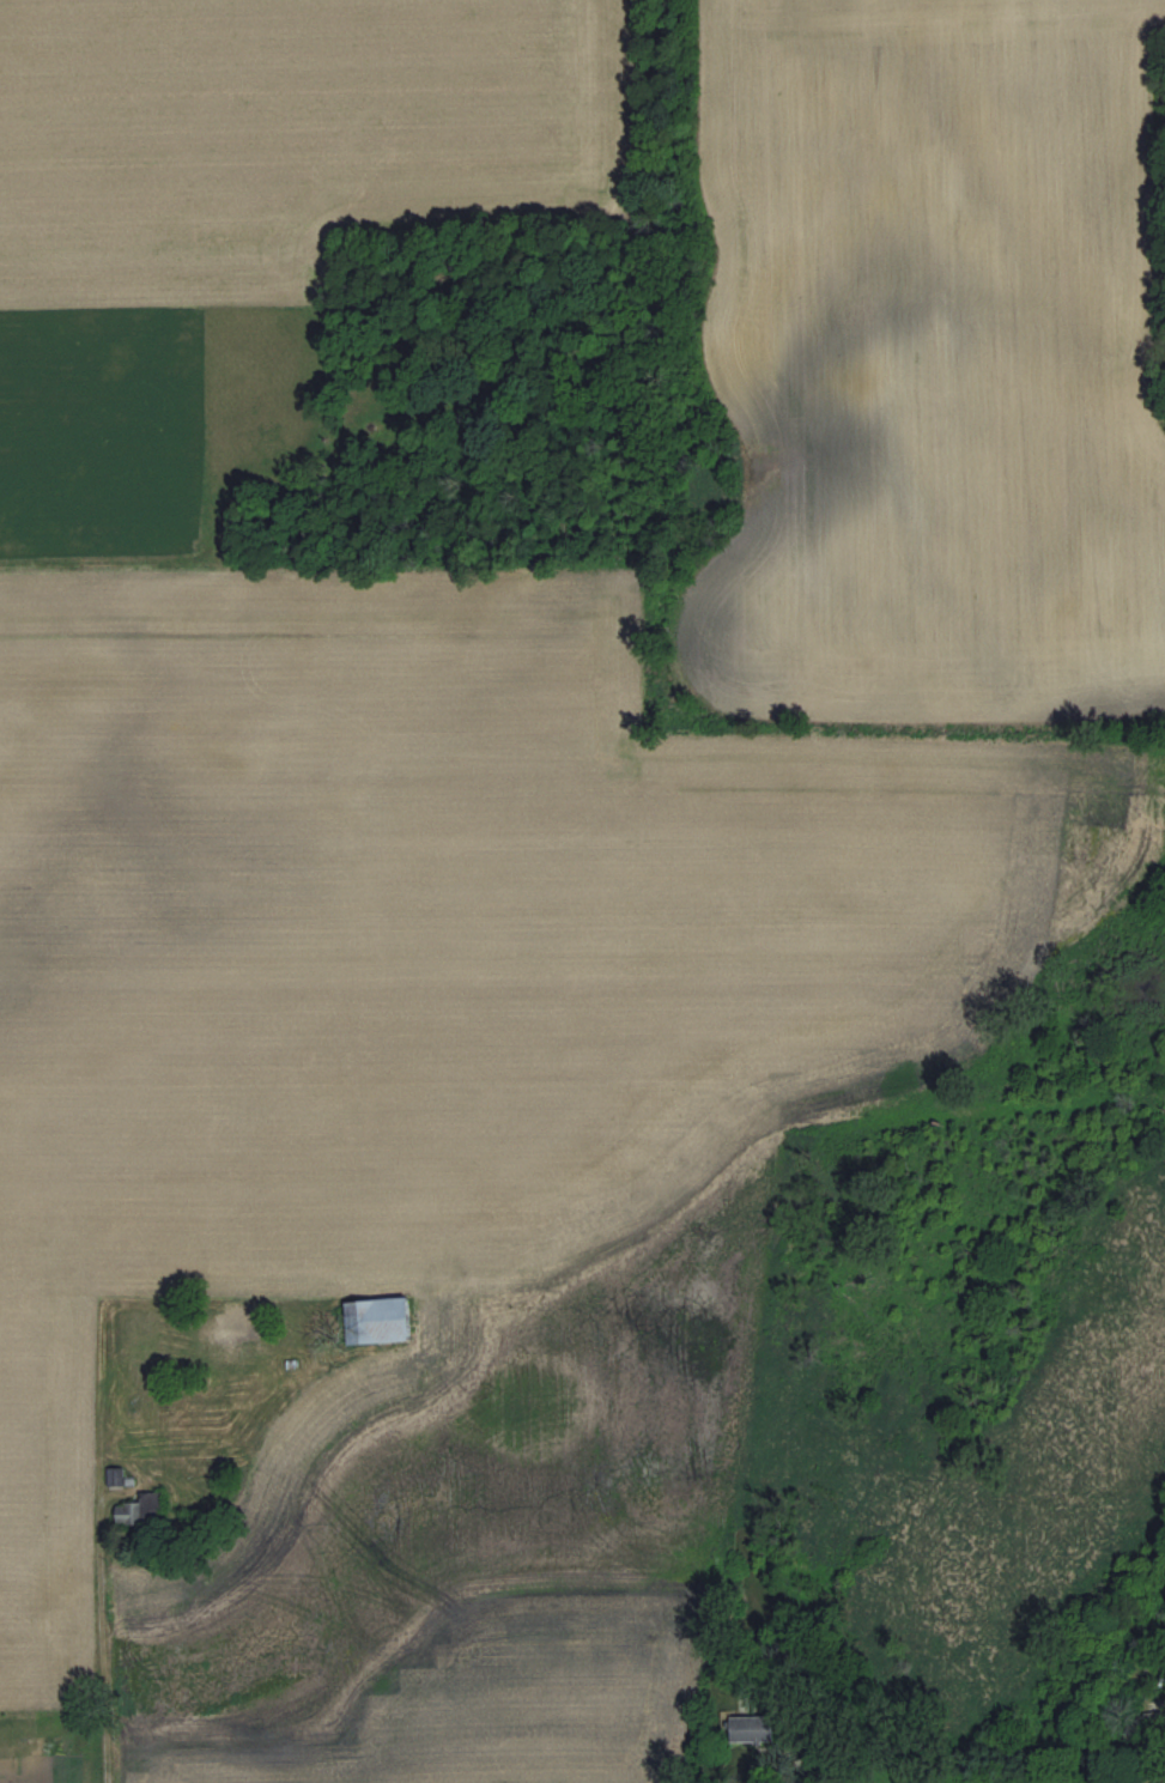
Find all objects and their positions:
building: (377, 1318)
building: (115, 1475)
building: (140, 1508)
road: (98, 1626)
building: (750, 1727)

